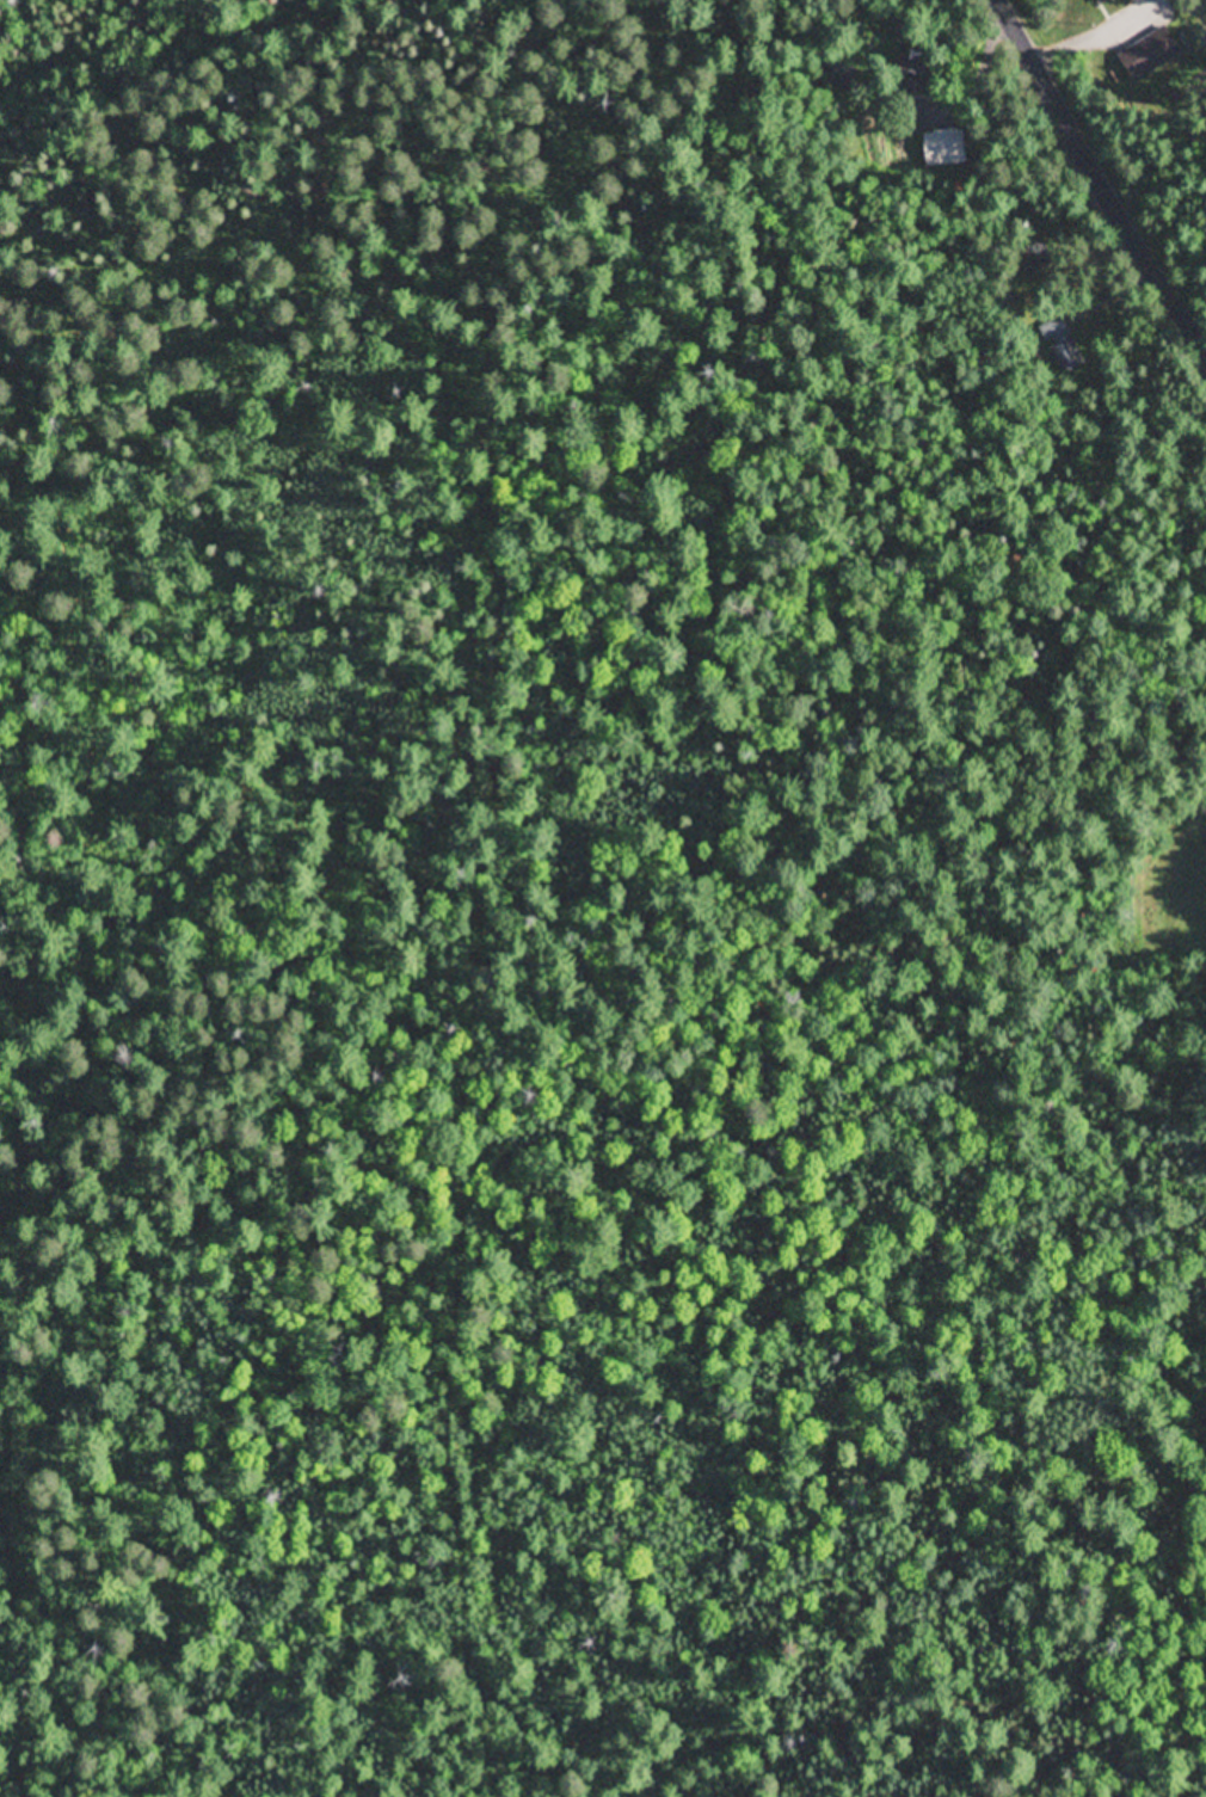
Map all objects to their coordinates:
building: (1107, 1)
building: (941, 149)
road: (1102, 173)
building: (1054, 346)

